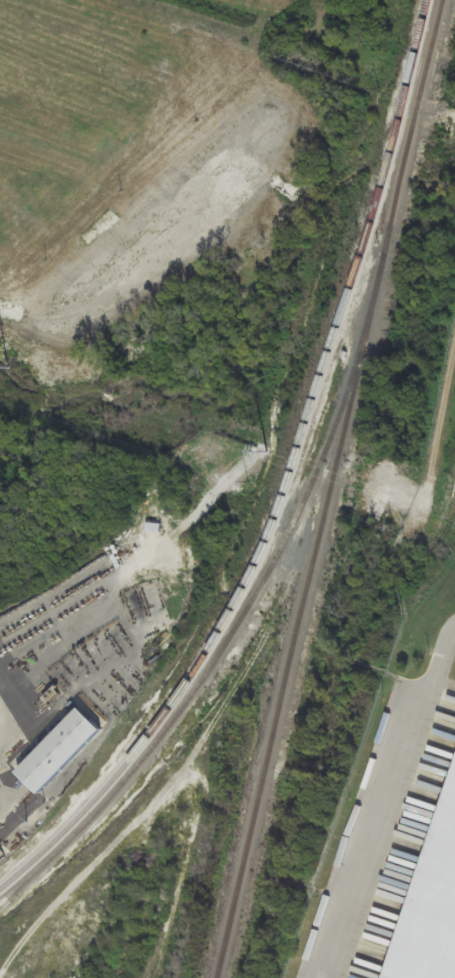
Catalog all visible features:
power tower: (10, 367)
railway: (287, 483)
power tower: (368, 484)
railway: (331, 488)
railway: (249, 611)
road: (391, 805)
building: (431, 908)

